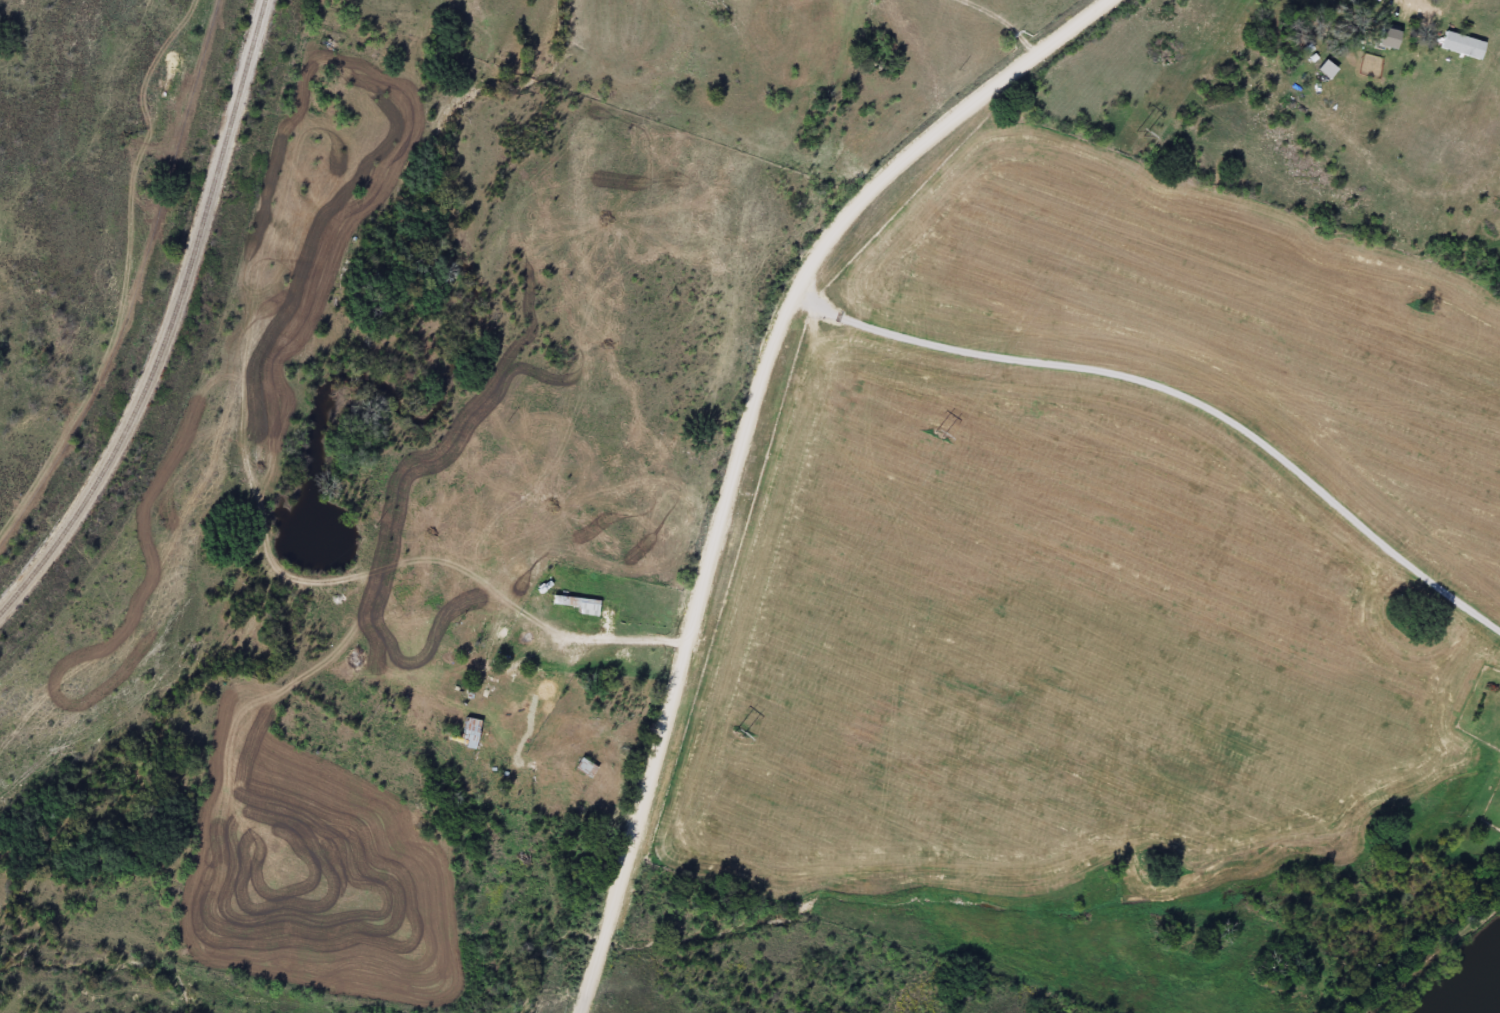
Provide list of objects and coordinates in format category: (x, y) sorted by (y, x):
road: (1398, 0)
building: (1379, 34)
building: (1457, 44)
building: (1322, 69)
power tower: (1137, 131)
railway: (167, 320)
road: (1181, 391)
power tower: (937, 432)
road: (746, 443)
building: (466, 732)
power tower: (737, 732)
building: (582, 766)
road: (1117, 995)

